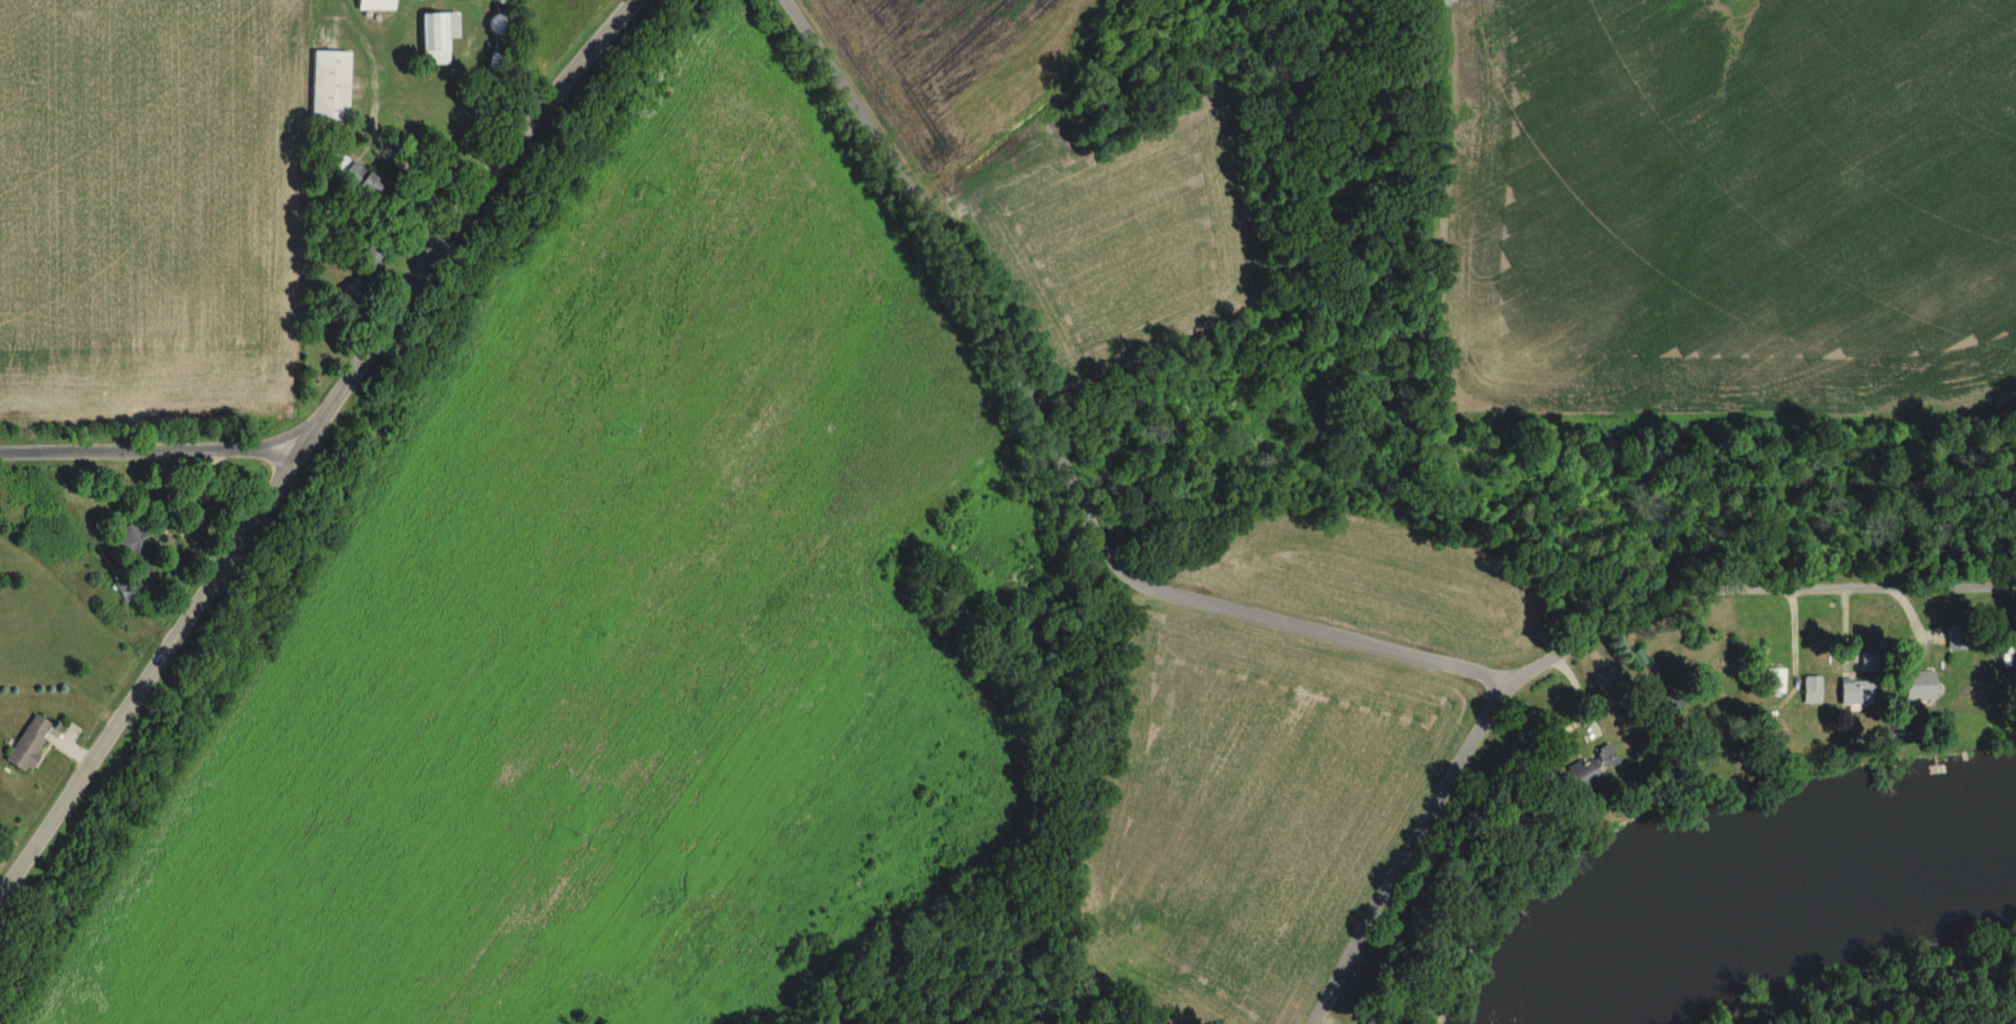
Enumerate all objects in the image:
building: (373, 6)
building: (495, 26)
building: (435, 37)
building: (328, 86)
building: (359, 180)
road: (316, 440)
road: (154, 453)
road: (1057, 458)
building: (134, 542)
road: (1751, 590)
building: (1955, 637)
building: (1637, 659)
building: (1605, 679)
building: (1919, 686)
building: (1811, 690)
building: (1856, 692)
building: (27, 743)
building: (1591, 767)
road: (1403, 850)
river: (1774, 894)

